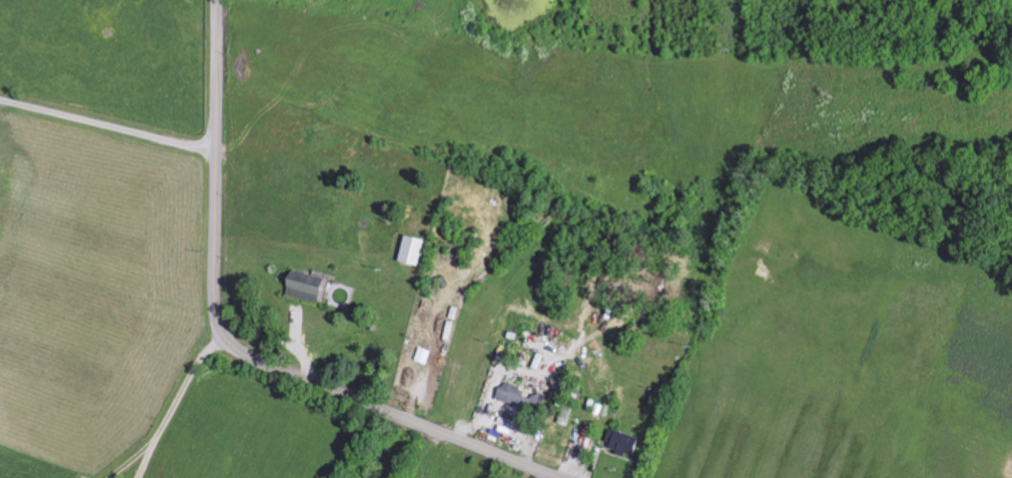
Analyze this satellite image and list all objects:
road: (108, 105)
building: (410, 251)
building: (302, 287)
road: (235, 345)
building: (519, 398)
road: (173, 410)
building: (621, 444)
road: (147, 459)

